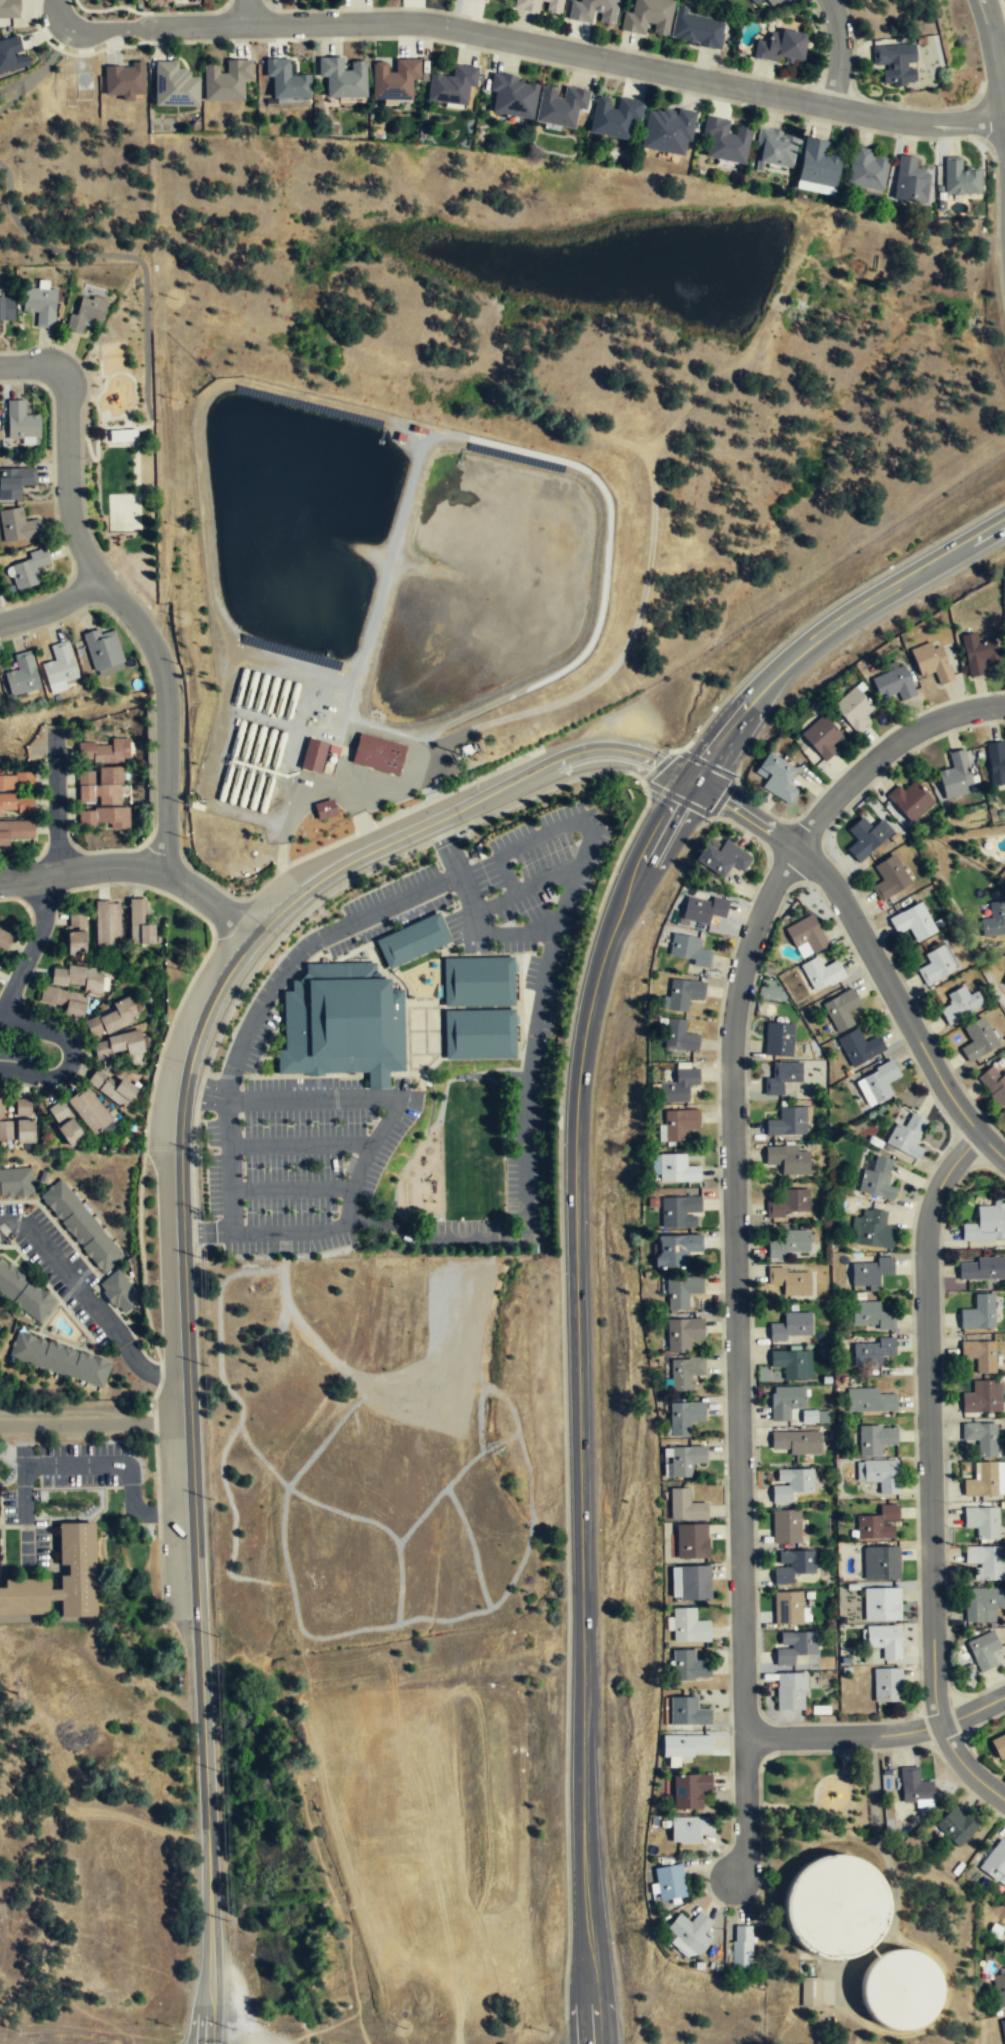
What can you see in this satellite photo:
building: (486, 0)
building: (504, 0)
building: (756, 2)
building: (773, 3)
building: (525, 7)
building: (9, 9)
road: (58, 12)
road: (246, 12)
building: (593, 12)
road: (987, 14)
building: (648, 18)
building: (877, 18)
road: (998, 28)
building: (698, 30)
road: (537, 45)
building: (780, 47)
road: (838, 53)
building: (12, 54)
road: (998, 61)
building: (896, 63)
building: (342, 77)
building: (224, 78)
building: (393, 79)
building: (124, 80)
building: (287, 80)
road: (29, 81)
road: (15, 84)
building: (173, 85)
building: (451, 85)
building: (512, 96)
building: (559, 106)
building: (612, 116)
building: (667, 131)
building: (725, 141)
building: (775, 147)
building: (817, 166)
building: (867, 169)
building: (960, 178)
building: (912, 180)
road: (131, 257)
building: (39, 306)
building: (6, 311)
building: (85, 313)
road: (29, 365)
road: (733, 365)
road: (100, 370)
road: (134, 389)
building: (19, 421)
road: (121, 426)
road: (95, 427)
road: (102, 432)
building: (122, 435)
park: (123, 438)
wastewater plant: (512, 441)
road: (133, 443)
road: (96, 456)
road: (550, 458)
street lamp: (85, 459)
road: (82, 461)
park: (146, 468)
road: (67, 479)
building: (14, 481)
road: (123, 495)
road: (54, 499)
park: (127, 509)
building: (16, 524)
building: (27, 568)
road: (82, 589)
road: (645, 589)
road: (52, 607)
road: (840, 621)
building: (101, 651)
building: (977, 654)
building: (931, 663)
building: (57, 666)
building: (20, 674)
building: (893, 684)
road: (151, 706)
building: (853, 709)
road: (166, 717)
road: (383, 733)
building: (820, 738)
road: (884, 751)
building: (105, 752)
street lamp: (859, 752)
building: (377, 755)
building: (313, 756)
building: (996, 762)
road: (411, 773)
building: (777, 777)
building: (955, 777)
road: (691, 779)
building: (17, 780)
building: (99, 787)
road: (300, 791)
building: (909, 802)
road: (55, 803)
building: (16, 804)
building: (324, 808)
flagpole: (341, 810)
road: (460, 810)
road: (744, 813)
building: (103, 818)
building: (14, 831)
building: (866, 838)
road: (447, 847)
building: (723, 857)
road: (579, 859)
road: (643, 864)
road: (137, 869)
building: (889, 878)
road: (211, 881)
road: (546, 882)
building: (703, 910)
building: (106, 920)
building: (139, 921)
building: (994, 921)
building: (913, 923)
building: (76, 931)
building: (805, 936)
building: (4, 938)
building: (412, 940)
road: (33, 946)
road: (303, 948)
building: (688, 951)
building: (936, 965)
building: (821, 975)
building: (77, 976)
street lamp: (722, 977)
building: (478, 981)
building: (1004, 983)
road: (890, 988)
building: (682, 994)
building: (64, 998)
building: (960, 1004)
building: (841, 1010)
building: (112, 1016)
building: (342, 1023)
building: (479, 1034)
building: (681, 1037)
building: (779, 1038)
building: (978, 1039)
building: (119, 1042)
building: (859, 1046)
road: (70, 1055)
building: (782, 1076)
building: (877, 1084)
building: (112, 1086)
building: (993, 1086)
building: (678, 1087)
building: (22, 1107)
building: (88, 1110)
building: (57, 1112)
building: (787, 1123)
building: (678, 1124)
building: (3, 1128)
building: (22, 1133)
building: (70, 1133)
building: (905, 1135)
road: (375, 1137)
road: (300, 1146)
road: (992, 1146)
building: (788, 1161)
road: (229, 1165)
building: (677, 1169)
road: (526, 1176)
building: (877, 1179)
building: (16, 1181)
road: (290, 1190)
building: (789, 1204)
building: (678, 1212)
street lamp: (753, 1219)
building: (986, 1225)
building: (81, 1226)
building: (871, 1229)
building: (788, 1245)
building: (674, 1250)
street lamp: (908, 1252)
building: (981, 1270)
building: (869, 1272)
building: (789, 1282)
road: (736, 1286)
building: (119, 1290)
building: (680, 1292)
building: (23, 1293)
road: (93, 1305)
building: (978, 1313)
building: (869, 1316)
building: (792, 1327)
building: (683, 1333)
building: (870, 1353)
building: (979, 1355)
building: (58, 1360)
building: (791, 1363)
building: (686, 1371)
building: (983, 1398)
building: (869, 1401)
building: (784, 1402)
building: (685, 1416)
road: (95, 1421)
road: (929, 1423)
road: (578, 1428)
building: (981, 1437)
building: (875, 1439)
building: (795, 1443)
building: (686, 1458)
road: (81, 1466)
building: (879, 1475)
street lamp: (722, 1477)
building: (983, 1479)
road: (193, 1482)
building: (791, 1484)
street lamp: (948, 1503)
building: (686, 1504)
building: (982, 1522)
building: (877, 1524)
building: (786, 1528)
building: (692, 1539)
building: (76, 1551)
building: (881, 1563)
building: (985, 1563)
building: (792, 1566)
building: (695, 1581)
building: (982, 1604)
building: (881, 1605)
building: (789, 1607)
building: (689, 1625)
building: (883, 1640)
building: (793, 1646)
building: (983, 1651)
building: (689, 1664)
building: (887, 1685)
building: (790, 1692)
building: (688, 1710)
road: (972, 1712)
street lamp: (726, 1731)
road: (842, 1735)
building: (686, 1744)
building: (998, 1748)
street lamp: (880, 1753)
road: (967, 1767)
building: (914, 1788)
building: (690, 1789)
park: (815, 1790)
road: (744, 1812)
building: (691, 1827)
building: (955, 1827)
building: (994, 1860)
road: (890, 1872)
building: (671, 1881)
building: (837, 1907)
storage tank: (837, 1907)
building: (691, 1931)
building: (742, 1948)
road: (592, 1988)
building: (999, 1988)
building: (902, 1989)
storage tank: (902, 1989)
building: (810, 1992)
building: (1002, 2031)

